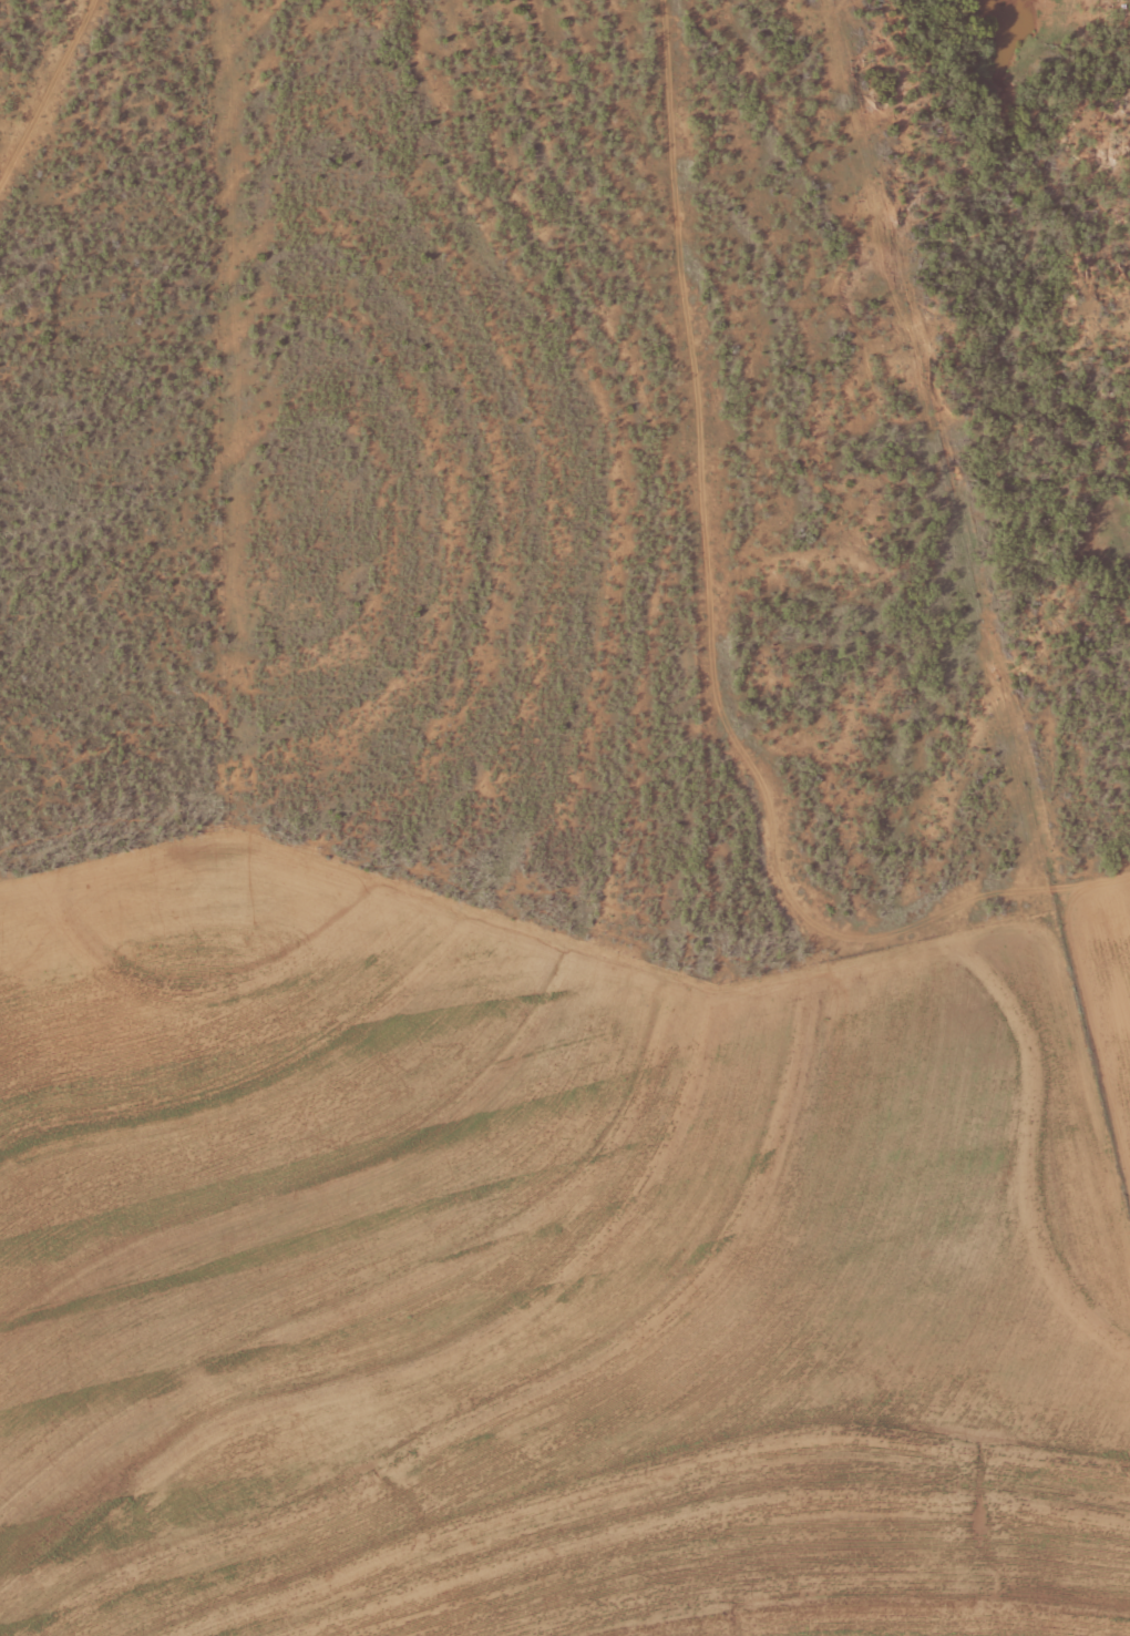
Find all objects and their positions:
road: (33, 80)

